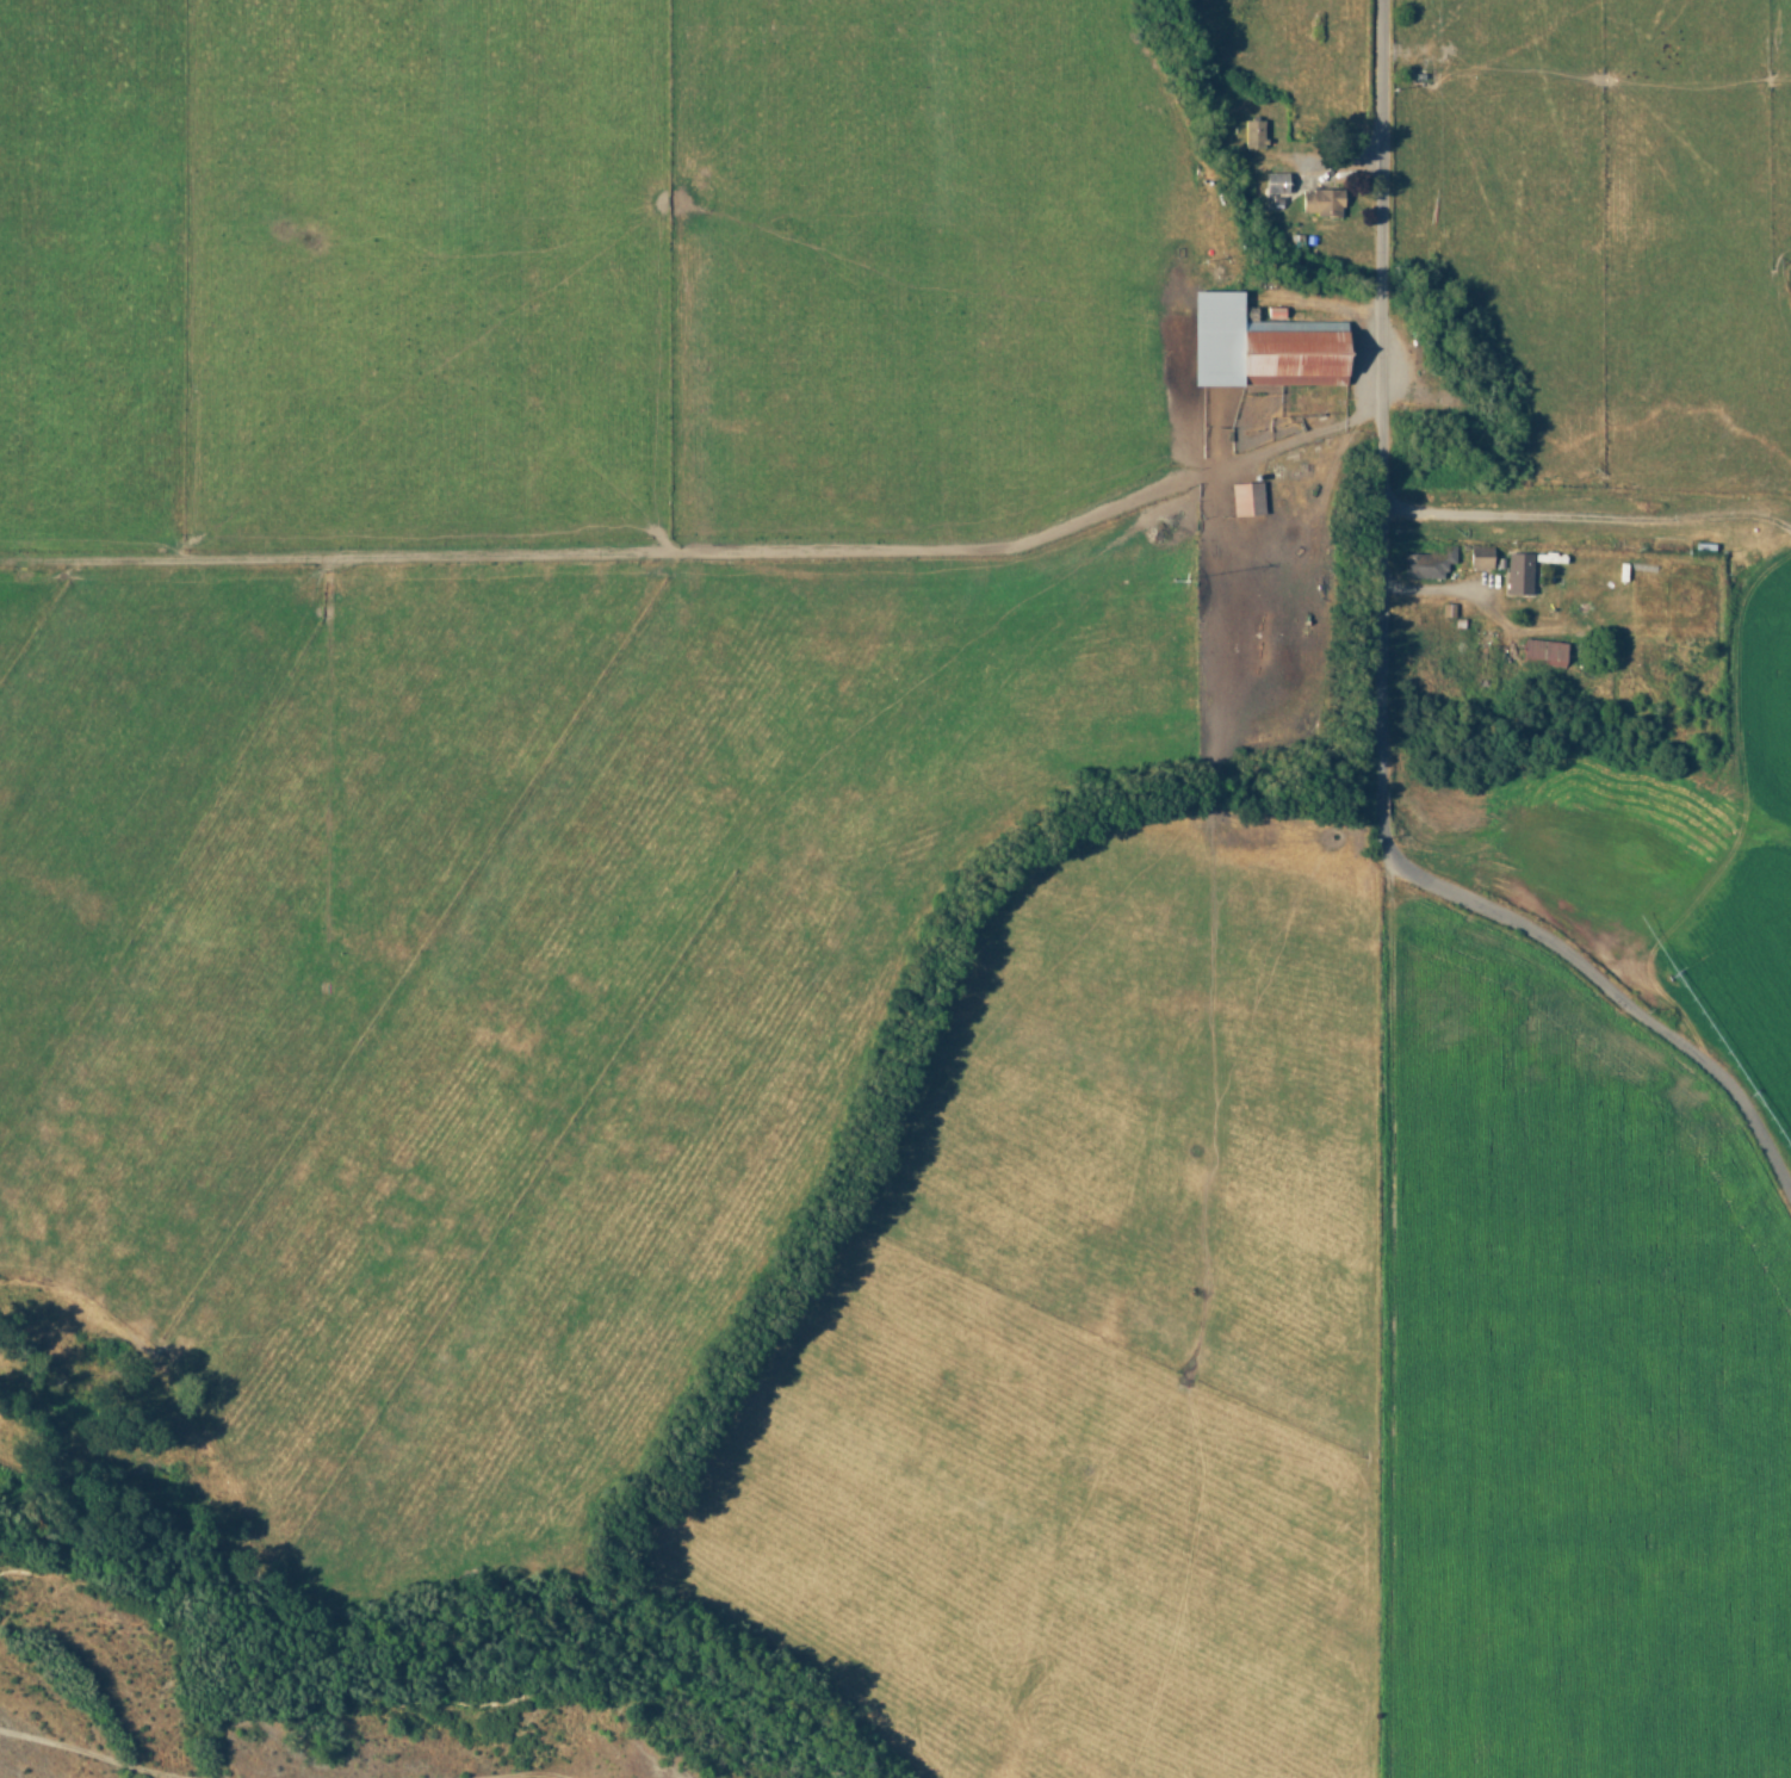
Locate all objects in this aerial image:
building: (1252, 132)
building: (1275, 182)
building: (1320, 202)
building: (1259, 346)
building: (1246, 498)
road: (1586, 513)
building: (1479, 556)
building: (1425, 562)
building: (1517, 572)
building: (1543, 650)
road: (1382, 694)
river: (149, 1681)

